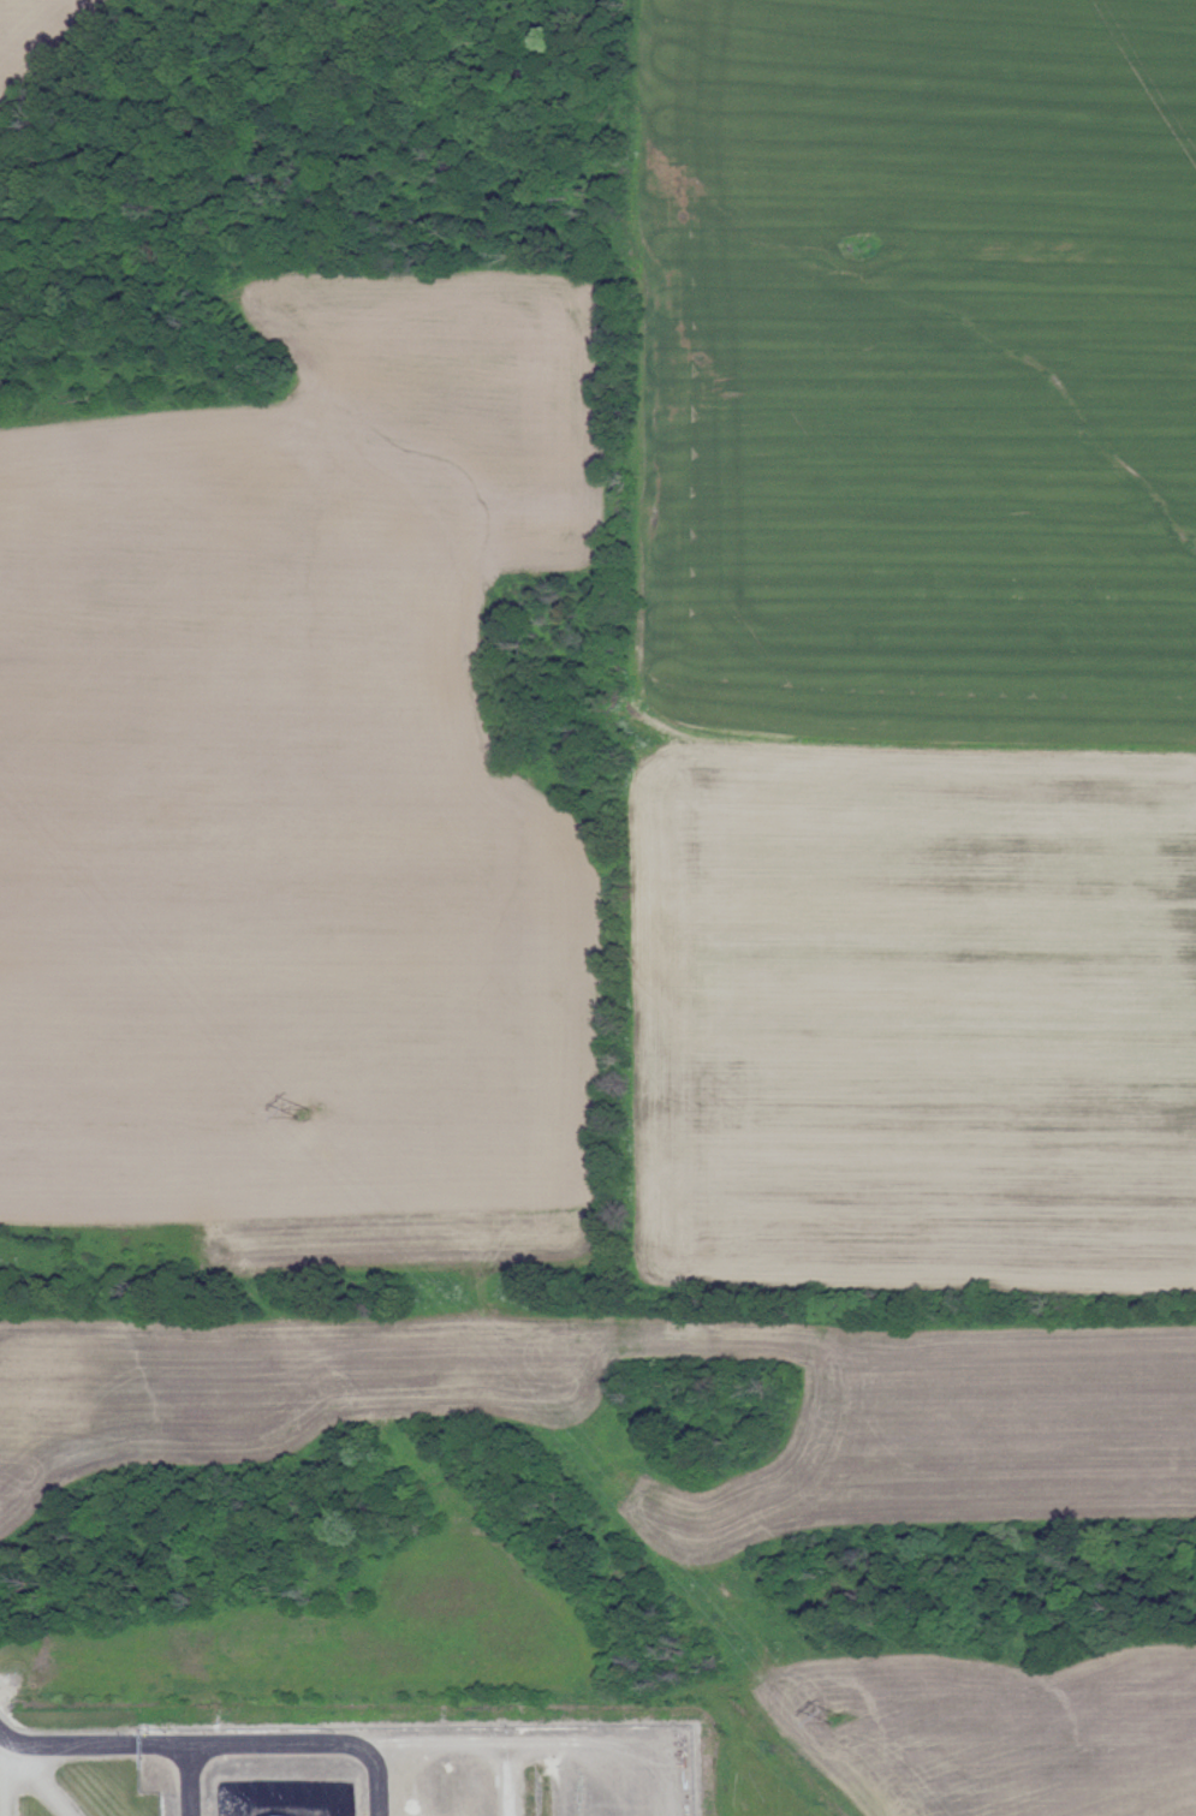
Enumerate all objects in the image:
road: (94, 1738)
road: (276, 1743)
road: (8, 1745)
power plant: (418, 1768)
road: (4, 1784)
road: (41, 1785)

